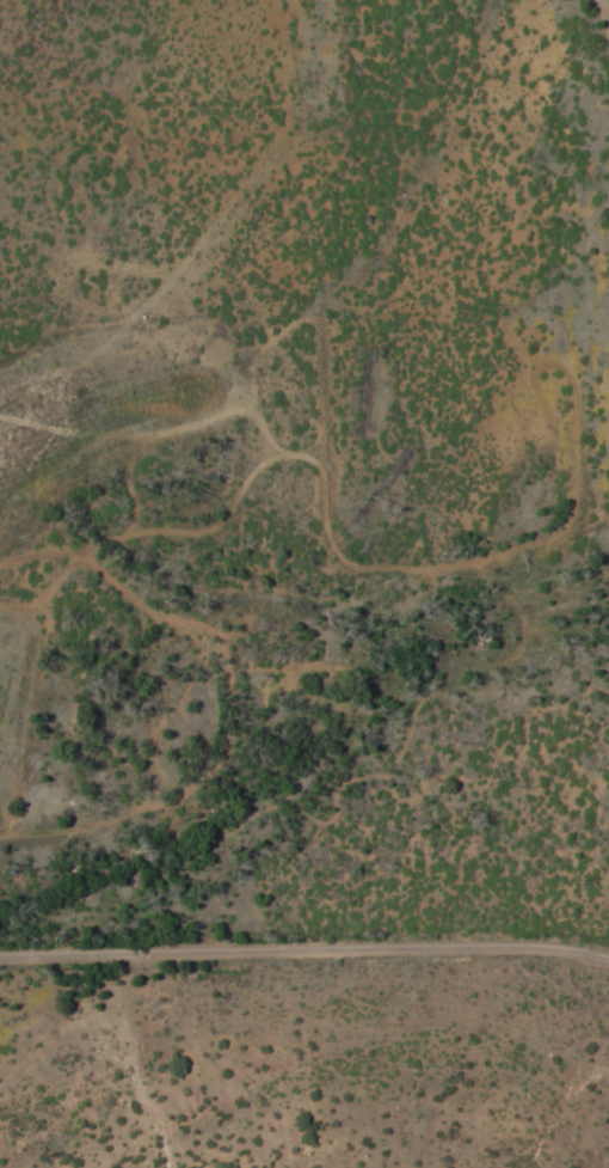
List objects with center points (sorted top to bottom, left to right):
road: (602, 16)
road: (304, 962)

